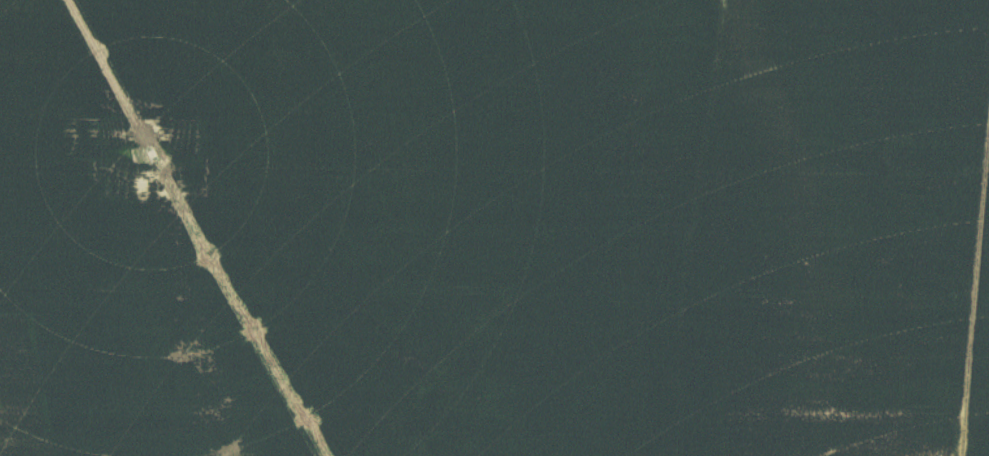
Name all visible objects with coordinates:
road: (974, 267)

